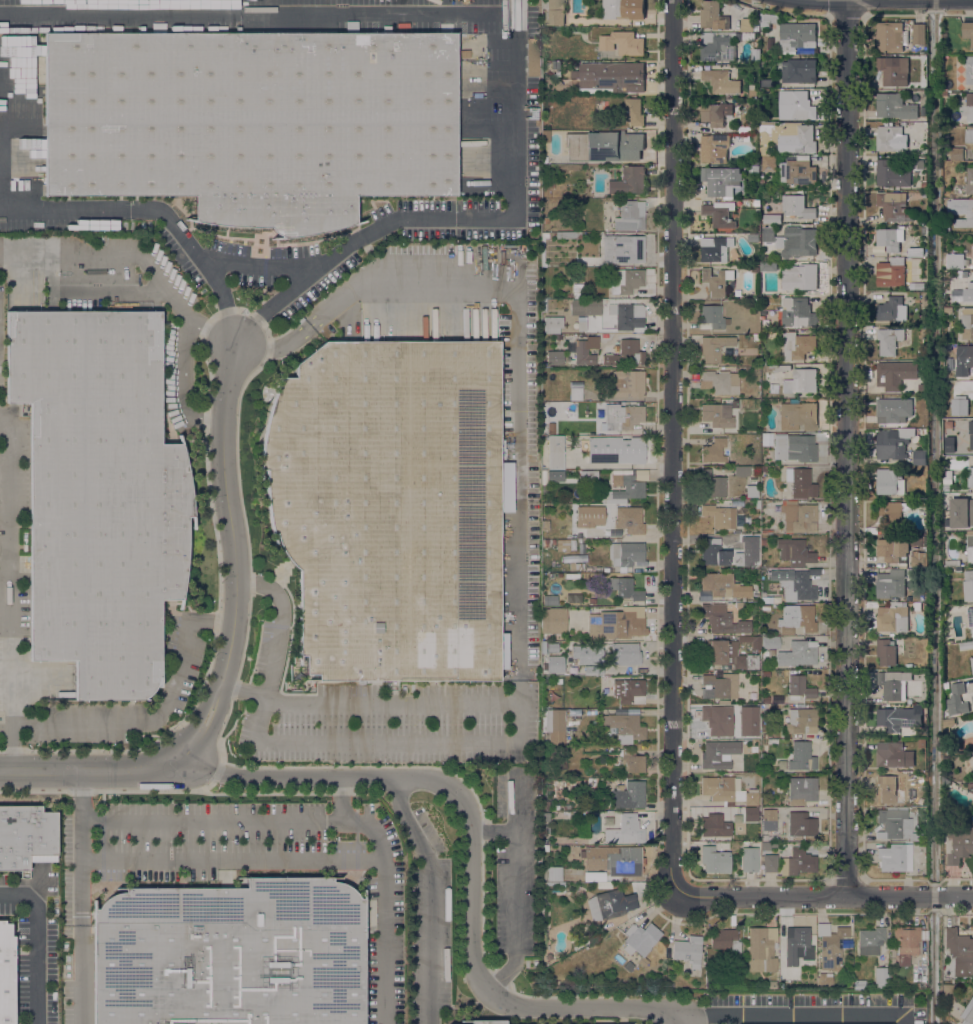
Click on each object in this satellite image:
road: (884, 0)
building: (623, 9)
building: (555, 12)
building: (714, 16)
building: (771, 19)
building: (747, 25)
building: (159, 27)
building: (387, 28)
building: (125, 29)
building: (968, 32)
building: (918, 34)
building: (797, 36)
building: (745, 37)
building: (890, 37)
building: (622, 43)
building: (717, 48)
building: (755, 55)
building: (531, 56)
building: (889, 70)
building: (799, 71)
building: (969, 71)
building: (612, 76)
building: (721, 82)
building: (767, 83)
building: (752, 94)
building: (944, 94)
building: (802, 106)
building: (894, 107)
building: (969, 107)
building: (634, 112)
building: (718, 115)
building: (252, 121)
building: (746, 129)
building: (545, 136)
building: (969, 136)
building: (786, 137)
building: (890, 139)
building: (604, 146)
building: (712, 148)
building: (956, 154)
building: (29, 156)
building: (756, 169)
building: (792, 170)
building: (891, 175)
road: (515, 180)
building: (762, 180)
building: (628, 181)
building: (720, 181)
building: (969, 182)
building: (923, 186)
building: (756, 204)
building: (893, 207)
building: (797, 208)
building: (961, 212)
building: (719, 214)
building: (630, 215)
building: (771, 218)
building: (545, 220)
building: (946, 229)
building: (567, 234)
building: (544, 235)
building: (753, 238)
building: (890, 238)
building: (972, 238)
building: (793, 241)
building: (972, 246)
building: (623, 248)
building: (715, 249)
road: (135, 255)
building: (766, 258)
building: (955, 261)
road: (264, 267)
building: (768, 267)
building: (891, 273)
building: (962, 274)
building: (799, 277)
building: (575, 278)
building: (627, 281)
building: (716, 281)
building: (919, 286)
building: (578, 291)
building: (969, 293)
building: (585, 307)
building: (891, 310)
building: (948, 310)
building: (800, 311)
building: (627, 316)
building: (712, 317)
building: (581, 323)
building: (551, 324)
building: (967, 324)
road: (517, 337)
building: (756, 337)
building: (601, 338)
building: (889, 341)
building: (798, 346)
building: (714, 347)
building: (947, 347)
building: (608, 353)
building: (554, 358)
building: (963, 360)
building: (777, 368)
building: (895, 374)
building: (720, 380)
building: (800, 382)
building: (628, 384)
road: (183, 385)
building: (772, 388)
building: (921, 388)
building: (575, 394)
building: (735, 403)
building: (959, 407)
building: (571, 408)
building: (892, 410)
building: (717, 415)
building: (797, 416)
building: (621, 417)
building: (924, 432)
building: (970, 434)
building: (766, 435)
building: (894, 443)
road: (851, 446)
road: (676, 448)
building: (795, 448)
building: (616, 449)
building: (714, 450)
building: (555, 452)
building: (919, 458)
building: (763, 469)
building: (741, 471)
building: (587, 474)
building: (555, 475)
building: (970, 478)
building: (946, 480)
building: (889, 482)
building: (802, 483)
building: (711, 484)
building: (634, 488)
building: (751, 490)
building: (99, 494)
building: (757, 502)
building: (390, 507)
building: (891, 513)
building: (960, 513)
road: (230, 515)
building: (588, 515)
building: (720, 516)
building: (799, 517)
building: (629, 519)
building: (545, 525)
building: (552, 533)
building: (915, 541)
building: (763, 542)
building: (545, 543)
building: (750, 544)
building: (565, 545)
building: (969, 546)
building: (892, 549)
building: (794, 550)
building: (713, 552)
building: (625, 554)
building: (918, 562)
building: (952, 563)
building: (574, 565)
building: (719, 584)
building: (891, 584)
building: (802, 585)
building: (968, 586)
building: (625, 589)
road: (9, 590)
building: (747, 596)
building: (703, 599)
building: (550, 600)
building: (592, 600)
building: (738, 604)
building: (765, 606)
building: (970, 616)
building: (796, 618)
building: (892, 619)
building: (722, 620)
building: (553, 621)
road: (279, 623)
building: (617, 623)
building: (967, 633)
building: (756, 642)
building: (770, 642)
building: (966, 646)
building: (543, 647)
building: (552, 647)
building: (765, 652)
building: (886, 652)
building: (625, 653)
building: (797, 653)
building: (727, 655)
building: (589, 657)
building: (554, 664)
building: (971, 664)
building: (908, 666)
building: (893, 684)
building: (719, 686)
building: (799, 688)
road: (244, 691)
building: (628, 691)
road: (412, 699)
building: (765, 699)
building: (955, 701)
building: (972, 701)
building: (723, 702)
road: (153, 714)
building: (896, 718)
building: (553, 720)
building: (801, 721)
building: (714, 722)
building: (949, 724)
road: (204, 726)
building: (624, 726)
road: (365, 739)
building: (921, 743)
building: (718, 754)
building: (890, 755)
building: (801, 756)
building: (556, 758)
building: (632, 761)
road: (87, 770)
building: (885, 789)
building: (726, 791)
building: (799, 792)
building: (629, 795)
building: (545, 805)
building: (566, 806)
building: (555, 807)
building: (750, 814)
building: (545, 816)
road: (211, 819)
building: (768, 819)
building: (713, 823)
building: (800, 825)
building: (895, 825)
building: (545, 829)
building: (625, 830)
building: (766, 836)
building: (26, 837)
building: (765, 845)
building: (959, 845)
building: (545, 848)
building: (895, 857)
building: (613, 859)
building: (749, 859)
building: (715, 860)
road: (233, 862)
building: (769, 862)
building: (797, 862)
building: (553, 874)
building: (605, 885)
road: (516, 894)
road: (913, 894)
road: (430, 896)
road: (764, 896)
building: (609, 904)
road: (385, 939)
building: (640, 939)
building: (870, 940)
road: (79, 942)
building: (726, 942)
building: (906, 943)
building: (797, 945)
building: (832, 945)
road: (34, 946)
building: (761, 948)
building: (688, 950)
building: (892, 951)
building: (959, 952)
building: (231, 954)
building: (892, 960)
road: (472, 965)
building: (628, 966)
building: (6, 974)
building: (881, 977)
building: (824, 980)
building: (670, 984)
building: (859, 984)
road: (683, 1016)
building: (968, 1017)
building: (487, 1022)

